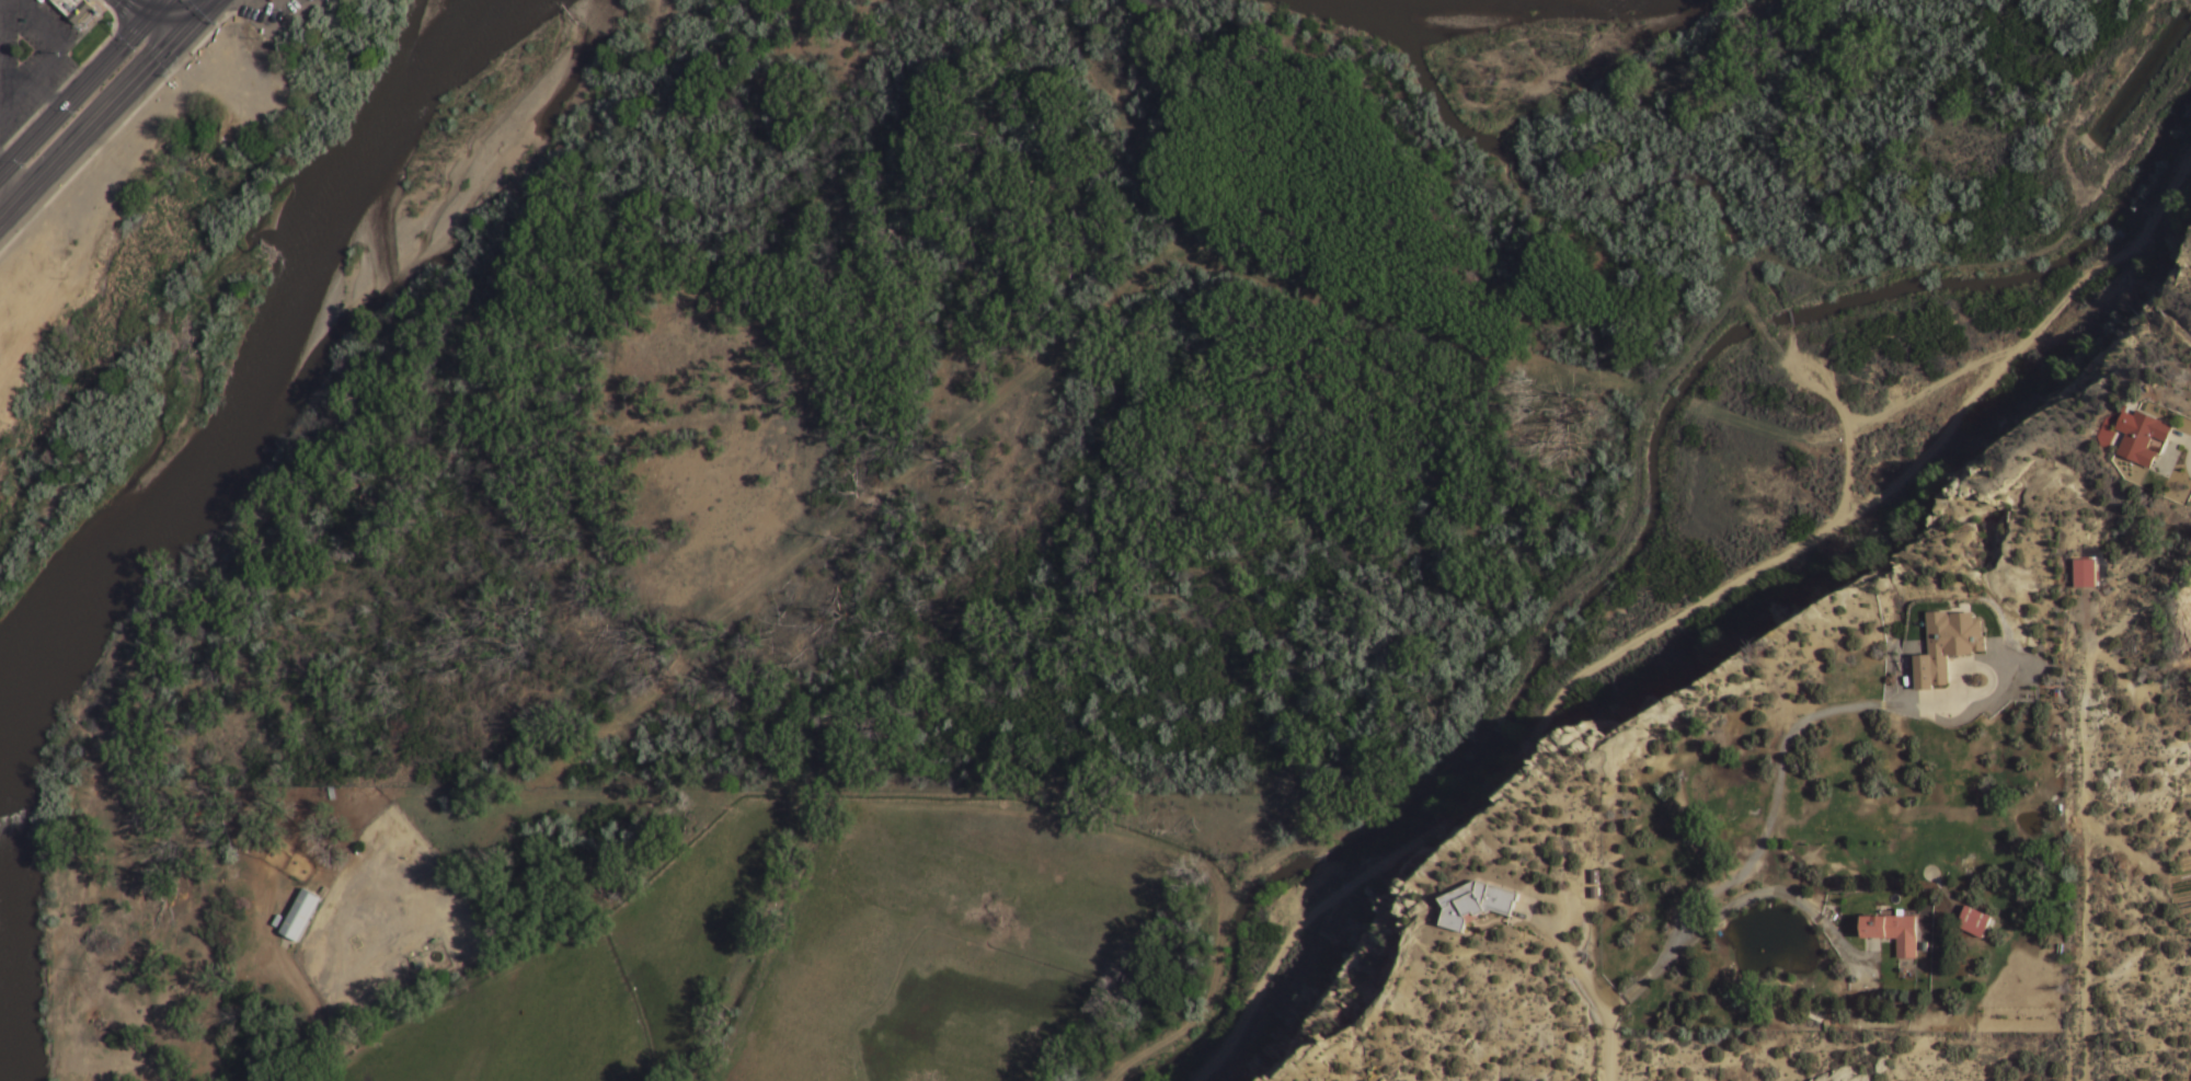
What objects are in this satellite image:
building: (74, 10)
road: (164, 15)
road: (78, 81)
road: (105, 108)
road: (1860, 280)
road: (1590, 375)
road: (1929, 389)
building: (2142, 437)
river: (148, 520)
building: (2085, 573)
road: (1685, 611)
road: (2121, 622)
building: (1948, 646)
river: (11, 694)
road: (1801, 723)
road: (1473, 732)
road: (2085, 865)
building: (1475, 904)
road: (1734, 906)
building: (300, 916)
building: (1974, 922)
road: (1544, 927)
building: (1893, 932)
crop: (821, 954)
road: (211, 980)
road: (313, 1036)
road: (1607, 1047)
road: (28, 1062)
road: (92, 1066)

